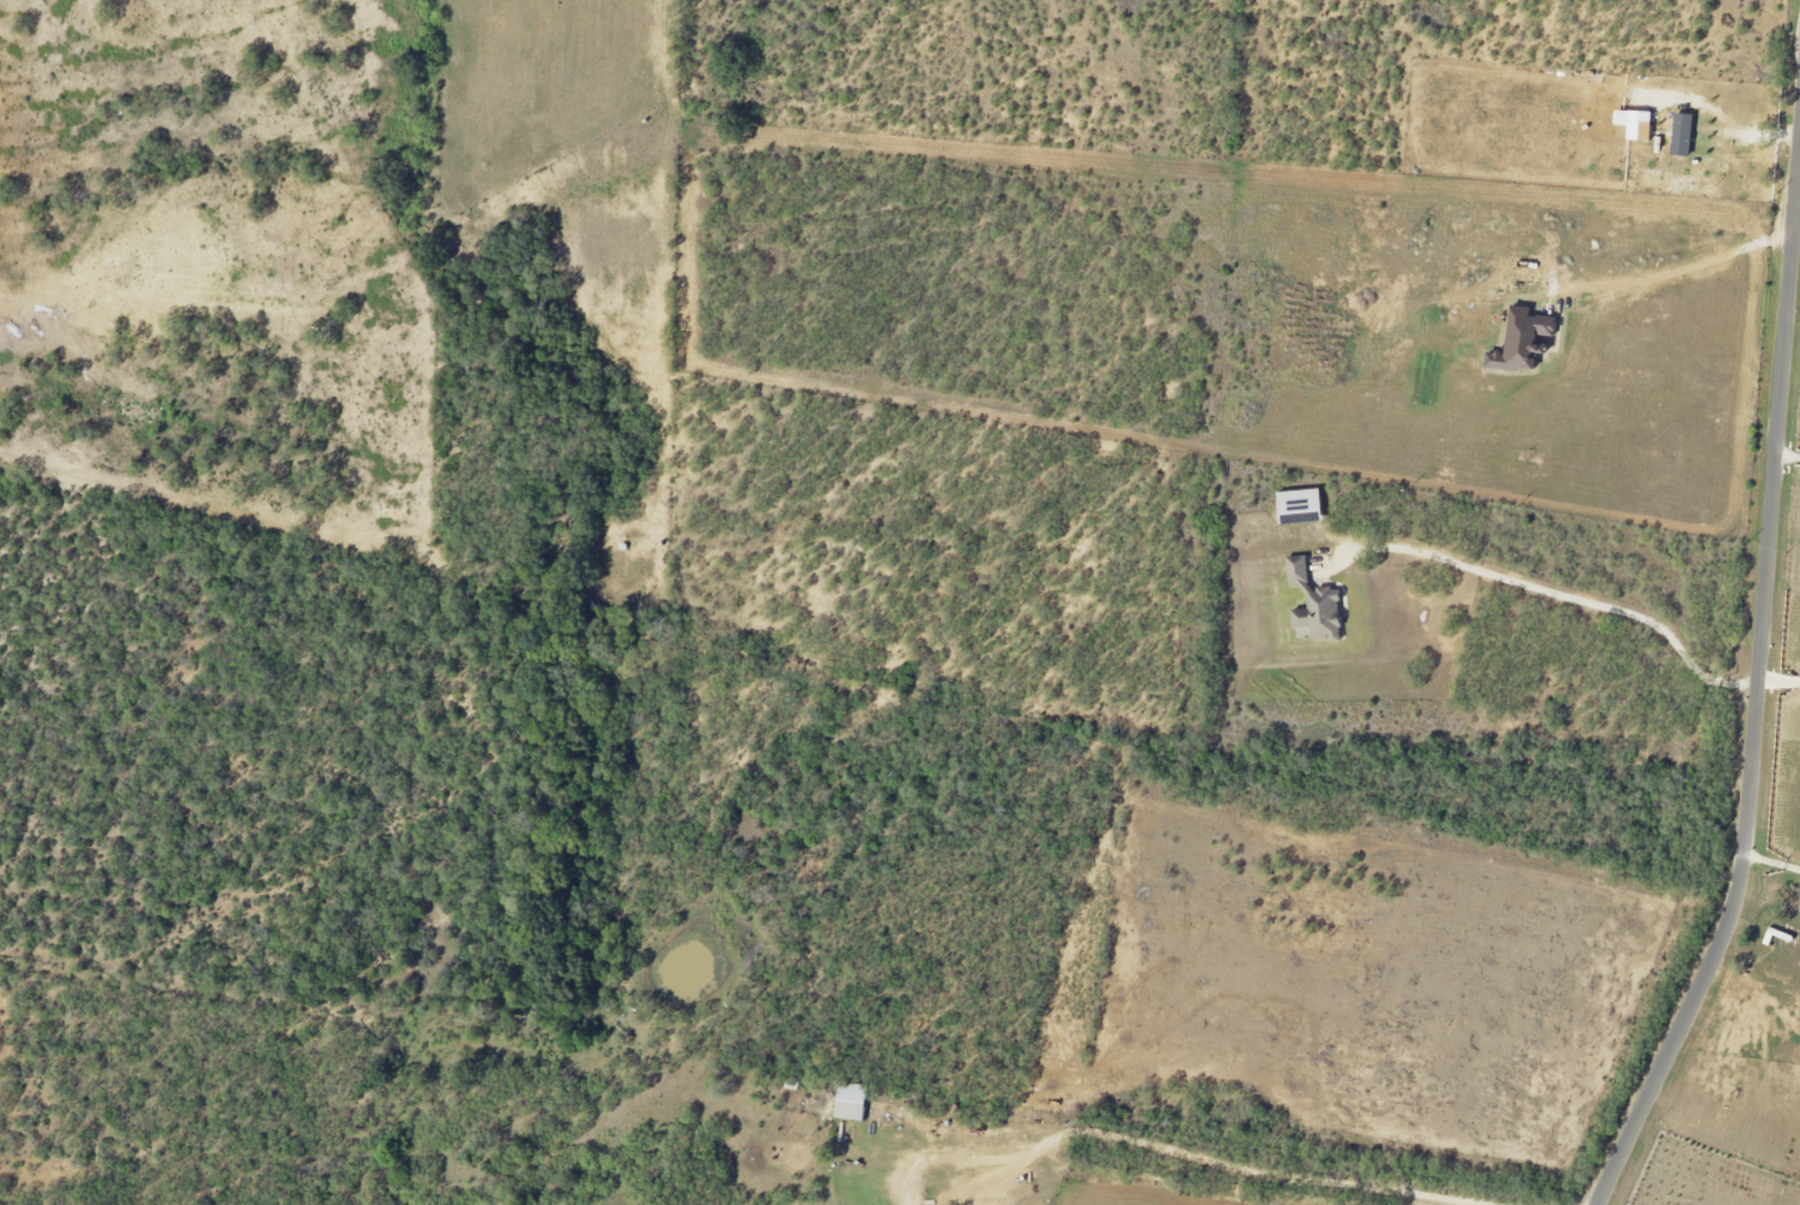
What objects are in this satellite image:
building: (1641, 127)
building: (1683, 136)
road: (1798, 210)
road: (1686, 269)
building: (1525, 340)
road: (1789, 449)
building: (1302, 507)
road: (1564, 596)
building: (1315, 605)
road: (1781, 677)
road: (1759, 698)
road: (1774, 861)
building: (853, 1103)
road: (1260, 1173)
road: (899, 1189)

